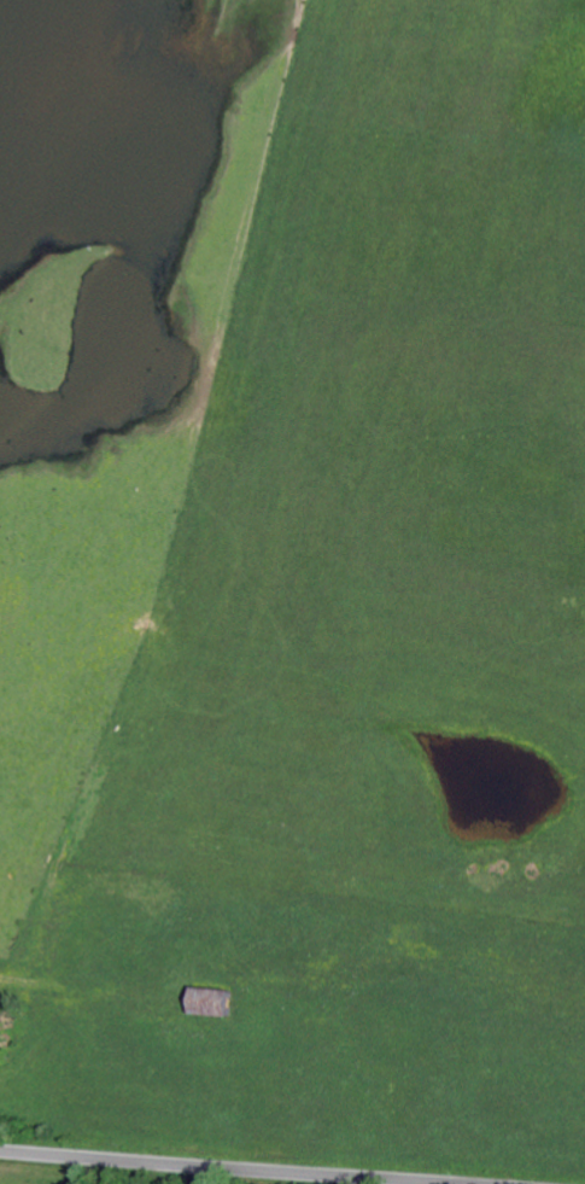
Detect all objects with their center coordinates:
building: (216, 1002)
road: (226, 1167)

